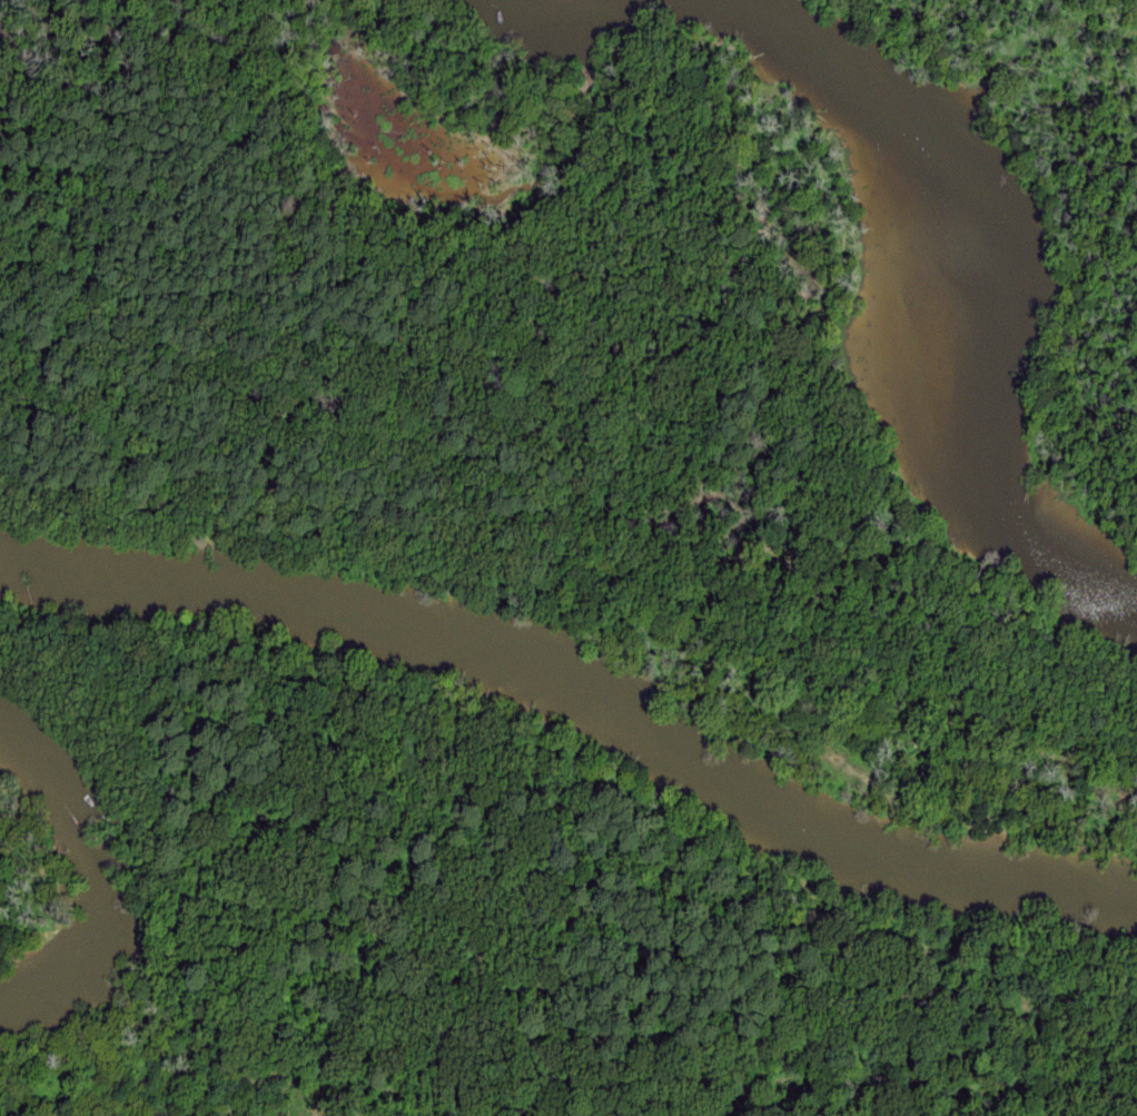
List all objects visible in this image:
river: (570, 32)
river: (1024, 276)
river: (580, 691)
river: (97, 876)

